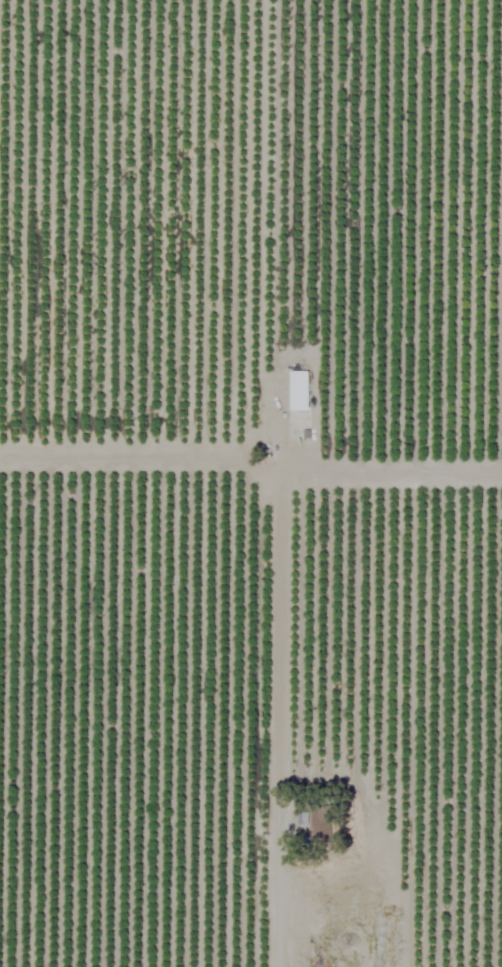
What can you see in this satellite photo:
crop: (251, 483)
road: (280, 483)
building: (317, 823)

